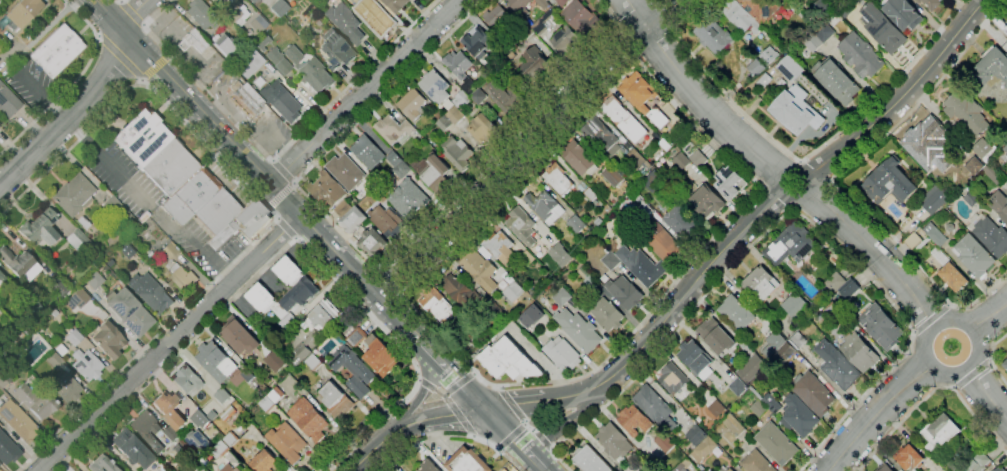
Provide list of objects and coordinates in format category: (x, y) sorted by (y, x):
building: (247, 0)
building: (346, 0)
building: (546, 0)
building: (251, 1)
building: (562, 2)
building: (393, 3)
building: (931, 3)
building: (280, 6)
building: (520, 6)
building: (846, 6)
building: (762, 9)
building: (232, 10)
building: (22, 12)
road: (134, 14)
building: (201, 14)
building: (903, 14)
building: (379, 17)
building: (580, 17)
building: (739, 17)
building: (345, 23)
building: (258, 24)
building: (535, 26)
building: (883, 28)
building: (825, 31)
building: (487, 32)
building: (1005, 32)
building: (714, 35)
building: (286, 37)
building: (543, 38)
building: (1006, 38)
building: (566, 40)
building: (192, 41)
building: (262, 41)
building: (315, 41)
building: (812, 41)
building: (223, 44)
building: (508, 44)
building: (57, 50)
building: (335, 50)
building: (501, 51)
building: (769, 55)
building: (861, 55)
road: (120, 56)
building: (511, 56)
building: (278, 61)
building: (534, 62)
building: (249, 63)
road: (155, 65)
building: (992, 65)
building: (756, 67)
building: (790, 68)
building: (309, 71)
building: (464, 74)
building: (255, 79)
building: (764, 80)
building: (835, 80)
road: (73, 82)
building: (435, 86)
building: (1006, 86)
road: (366, 91)
building: (504, 95)
road: (696, 95)
road: (904, 97)
building: (643, 98)
building: (244, 100)
building: (10, 103)
building: (287, 104)
building: (413, 104)
building: (459, 107)
road: (69, 110)
building: (798, 110)
building: (966, 114)
building: (619, 115)
building: (430, 121)
building: (444, 123)
road: (252, 127)
building: (483, 128)
building: (395, 130)
parking lot: (269, 131)
building: (423, 133)
building: (601, 136)
building: (661, 140)
building: (927, 140)
building: (672, 148)
building: (1005, 148)
building: (368, 151)
road: (527, 151)
building: (457, 152)
building: (981, 153)
building: (695, 155)
road: (274, 157)
building: (579, 157)
building: (681, 160)
road: (105, 161)
building: (639, 161)
road: (797, 162)
building: (398, 164)
road: (256, 167)
road: (283, 171)
building: (346, 171)
building: (433, 173)
building: (995, 174)
building: (614, 175)
road: (747, 177)
building: (372, 178)
road: (831, 178)
building: (558, 179)
building: (654, 181)
building: (187, 182)
building: (728, 182)
building: (889, 182)
building: (583, 186)
building: (640, 187)
building: (625, 190)
building: (328, 191)
building: (73, 194)
building: (591, 194)
road: (281, 196)
building: (972, 197)
road: (790, 199)
building: (934, 199)
building: (640, 200)
building: (705, 200)
building: (410, 201)
building: (999, 204)
building: (545, 207)
road: (265, 208)
building: (343, 208)
building: (645, 210)
building: (117, 211)
road: (788, 212)
building: (383, 215)
building: (143, 217)
building: (353, 220)
building: (975, 220)
building: (83, 222)
building: (682, 222)
building: (577, 224)
building: (522, 225)
building: (950, 227)
road: (285, 228)
building: (41, 230)
building: (935, 234)
building: (631, 236)
building: (992, 236)
road: (292, 241)
building: (661, 241)
building: (913, 241)
building: (79, 242)
building: (795, 242)
building: (373, 243)
road: (197, 244)
building: (921, 245)
building: (500, 246)
building: (614, 246)
building: (170, 251)
building: (561, 255)
road: (876, 256)
building: (940, 256)
building: (974, 256)
building: (527, 258)
building: (610, 260)
building: (19, 263)
road: (375, 264)
building: (642, 265)
building: (478, 266)
building: (289, 271)
building: (0, 275)
building: (183, 277)
building: (953, 277)
building: (589, 278)
building: (0, 280)
building: (93, 280)
road: (390, 280)
building: (760, 283)
building: (842, 285)
building: (495, 288)
building: (62, 290)
building: (459, 290)
building: (514, 291)
building: (150, 292)
building: (625, 292)
building: (297, 296)
building: (562, 297)
building: (261, 298)
building: (76, 299)
road: (675, 303)
building: (438, 306)
building: (797, 306)
building: (129, 311)
building: (493, 311)
building: (736, 313)
building: (533, 314)
building: (607, 314)
building: (774, 317)
road: (930, 319)
road: (989, 320)
building: (289, 322)
building: (756, 324)
building: (881, 326)
building: (579, 330)
building: (272, 332)
building: (316, 332)
building: (61, 333)
building: (716, 336)
building: (74, 337)
building: (240, 337)
building: (107, 338)
building: (473, 338)
road: (419, 340)
building: (20, 341)
building: (798, 341)
road: (167, 343)
building: (774, 343)
building: (375, 351)
building: (786, 351)
building: (859, 351)
building: (49, 352)
building: (562, 354)
building: (694, 357)
road: (990, 357)
building: (55, 360)
building: (509, 360)
building: (216, 361)
building: (273, 361)
building: (86, 364)
building: (1005, 365)
building: (751, 368)
building: (840, 368)
building: (353, 370)
road: (962, 370)
building: (248, 375)
road: (454, 376)
road: (972, 376)
building: (674, 377)
building: (4, 378)
building: (187, 380)
building: (706, 382)
road: (457, 385)
building: (738, 386)
building: (67, 388)
building: (349, 390)
road: (424, 390)
building: (813, 393)
road: (986, 394)
building: (276, 395)
building: (221, 399)
building: (337, 400)
building: (35, 401)
building: (165, 402)
road: (448, 403)
road: (523, 403)
building: (266, 404)
road: (511, 404)
building: (653, 408)
traffic signals: (485, 409)
building: (717, 409)
building: (228, 412)
road: (877, 414)
road: (440, 415)
building: (798, 416)
road: (978, 418)
building: (200, 419)
building: (309, 420)
building: (633, 420)
building: (18, 421)
road: (569, 422)
road: (900, 424)
building: (733, 425)
road: (528, 426)
building: (772, 430)
building: (940, 431)
building: (140, 432)
building: (172, 433)
building: (696, 435)
road: (451, 436)
road: (511, 437)
building: (231, 439)
road: (514, 439)
road: (542, 441)
building: (614, 441)
building: (198, 442)
building: (287, 442)
building: (664, 442)
building: (128, 445)
building: (220, 449)
building: (704, 449)
building: (7, 450)
road: (375, 450)
building: (193, 457)
building: (909, 458)
building: (152, 460)
building: (590, 460)
building: (264, 461)
building: (468, 461)
building: (757, 462)
building: (977, 462)
building: (101, 464)
building: (947, 465)
building: (429, 466)
building: (199, 468)
building: (230, 468)
building: (680, 468)
building: (885, 468)
building: (730, 469)
building: (999, 469)
building: (648, 470)
building: (1006, 470)

